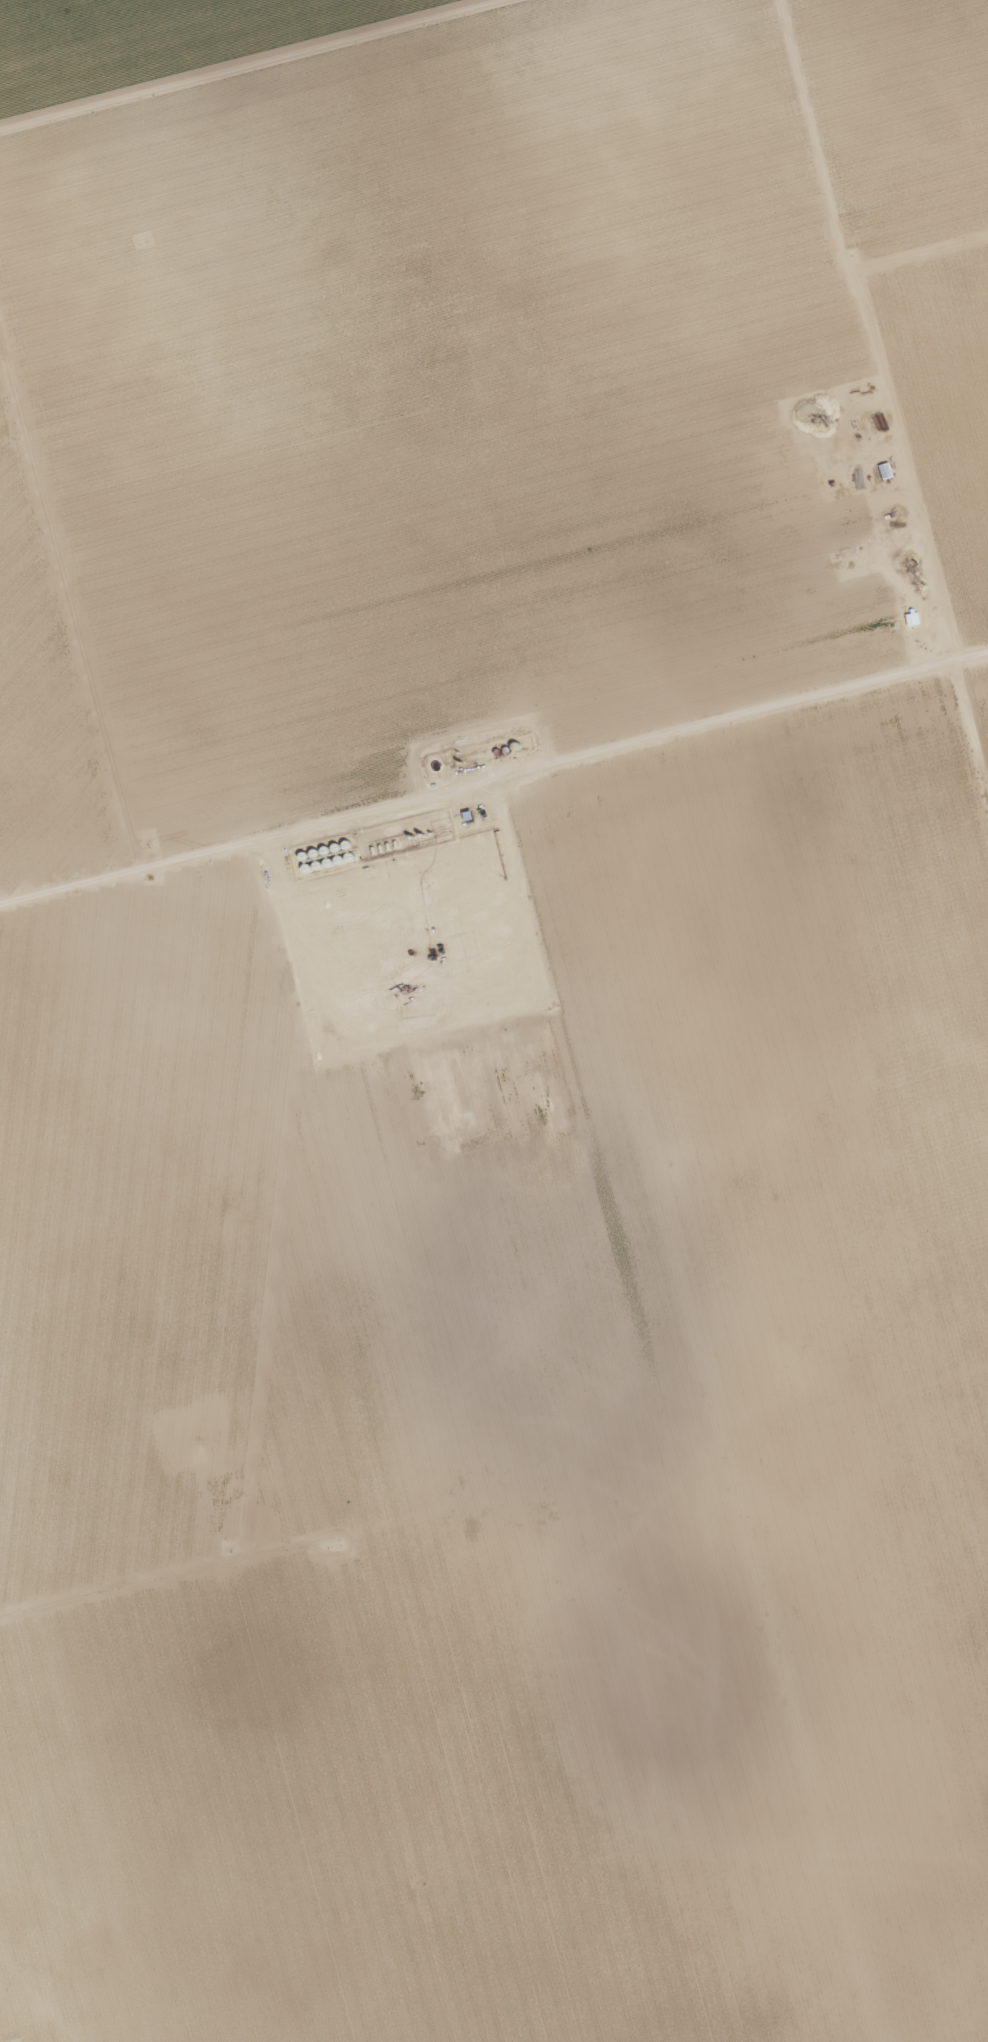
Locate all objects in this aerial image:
road: (493, 789)

